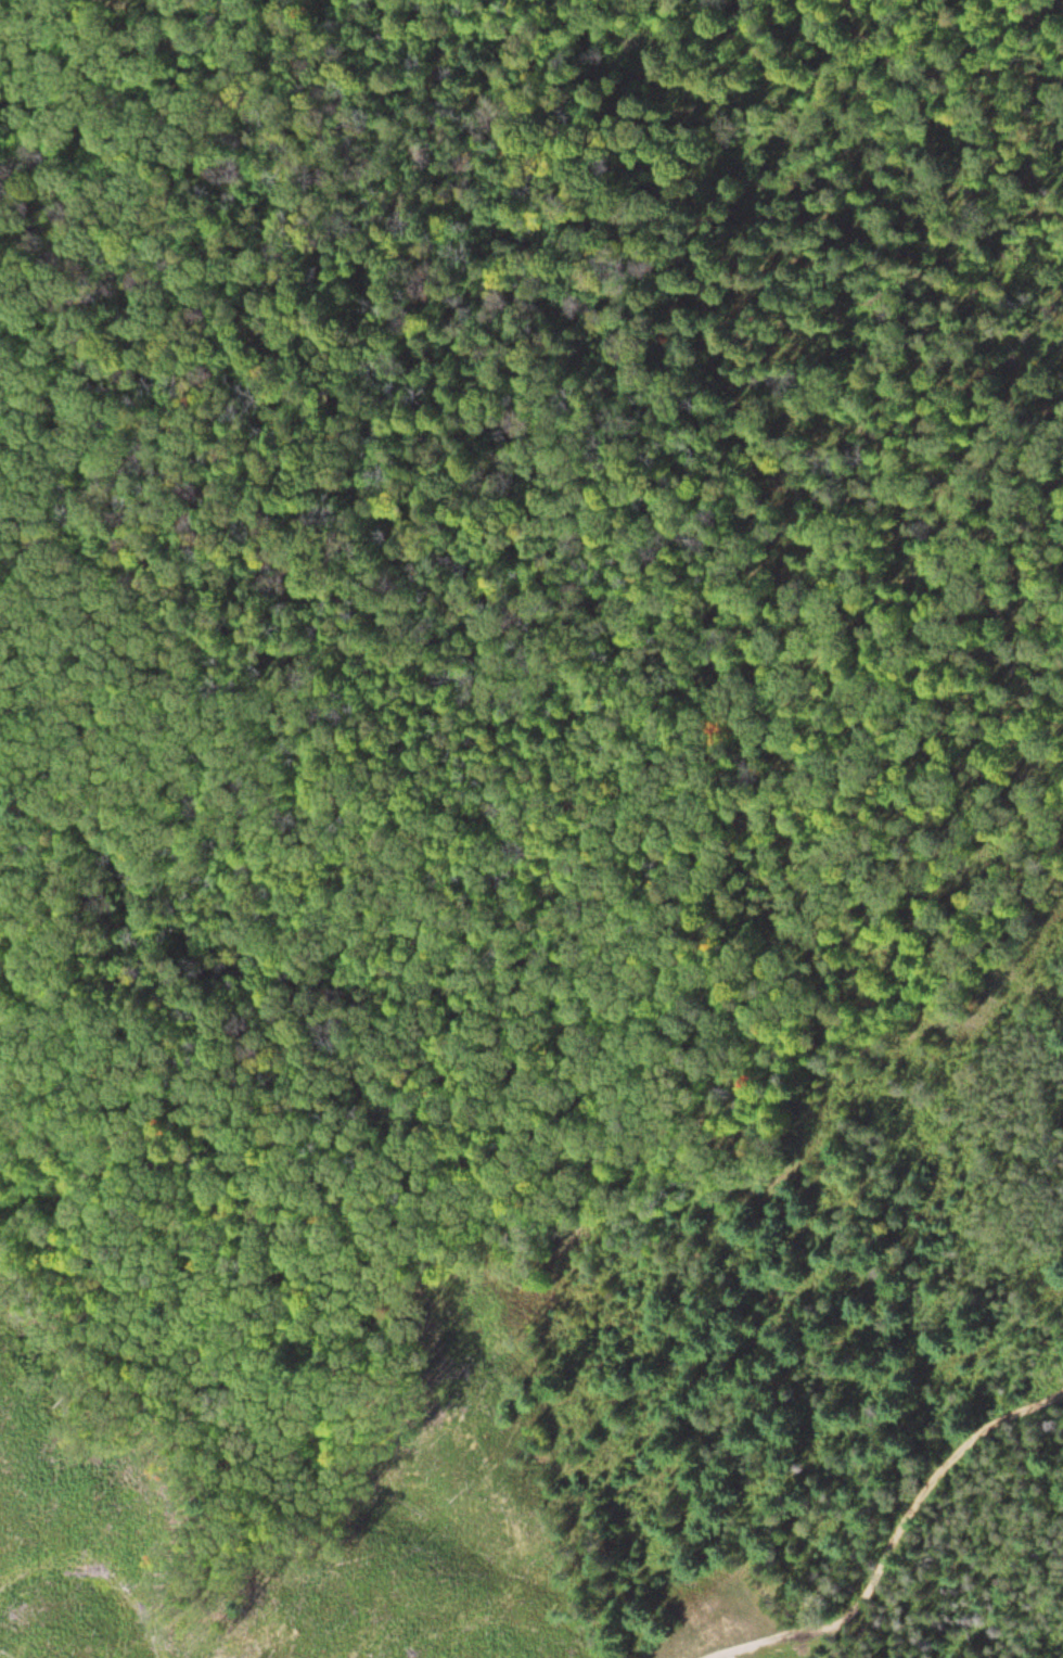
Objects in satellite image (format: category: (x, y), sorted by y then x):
road: (925, 72)
road: (483, 560)
road: (901, 1530)

